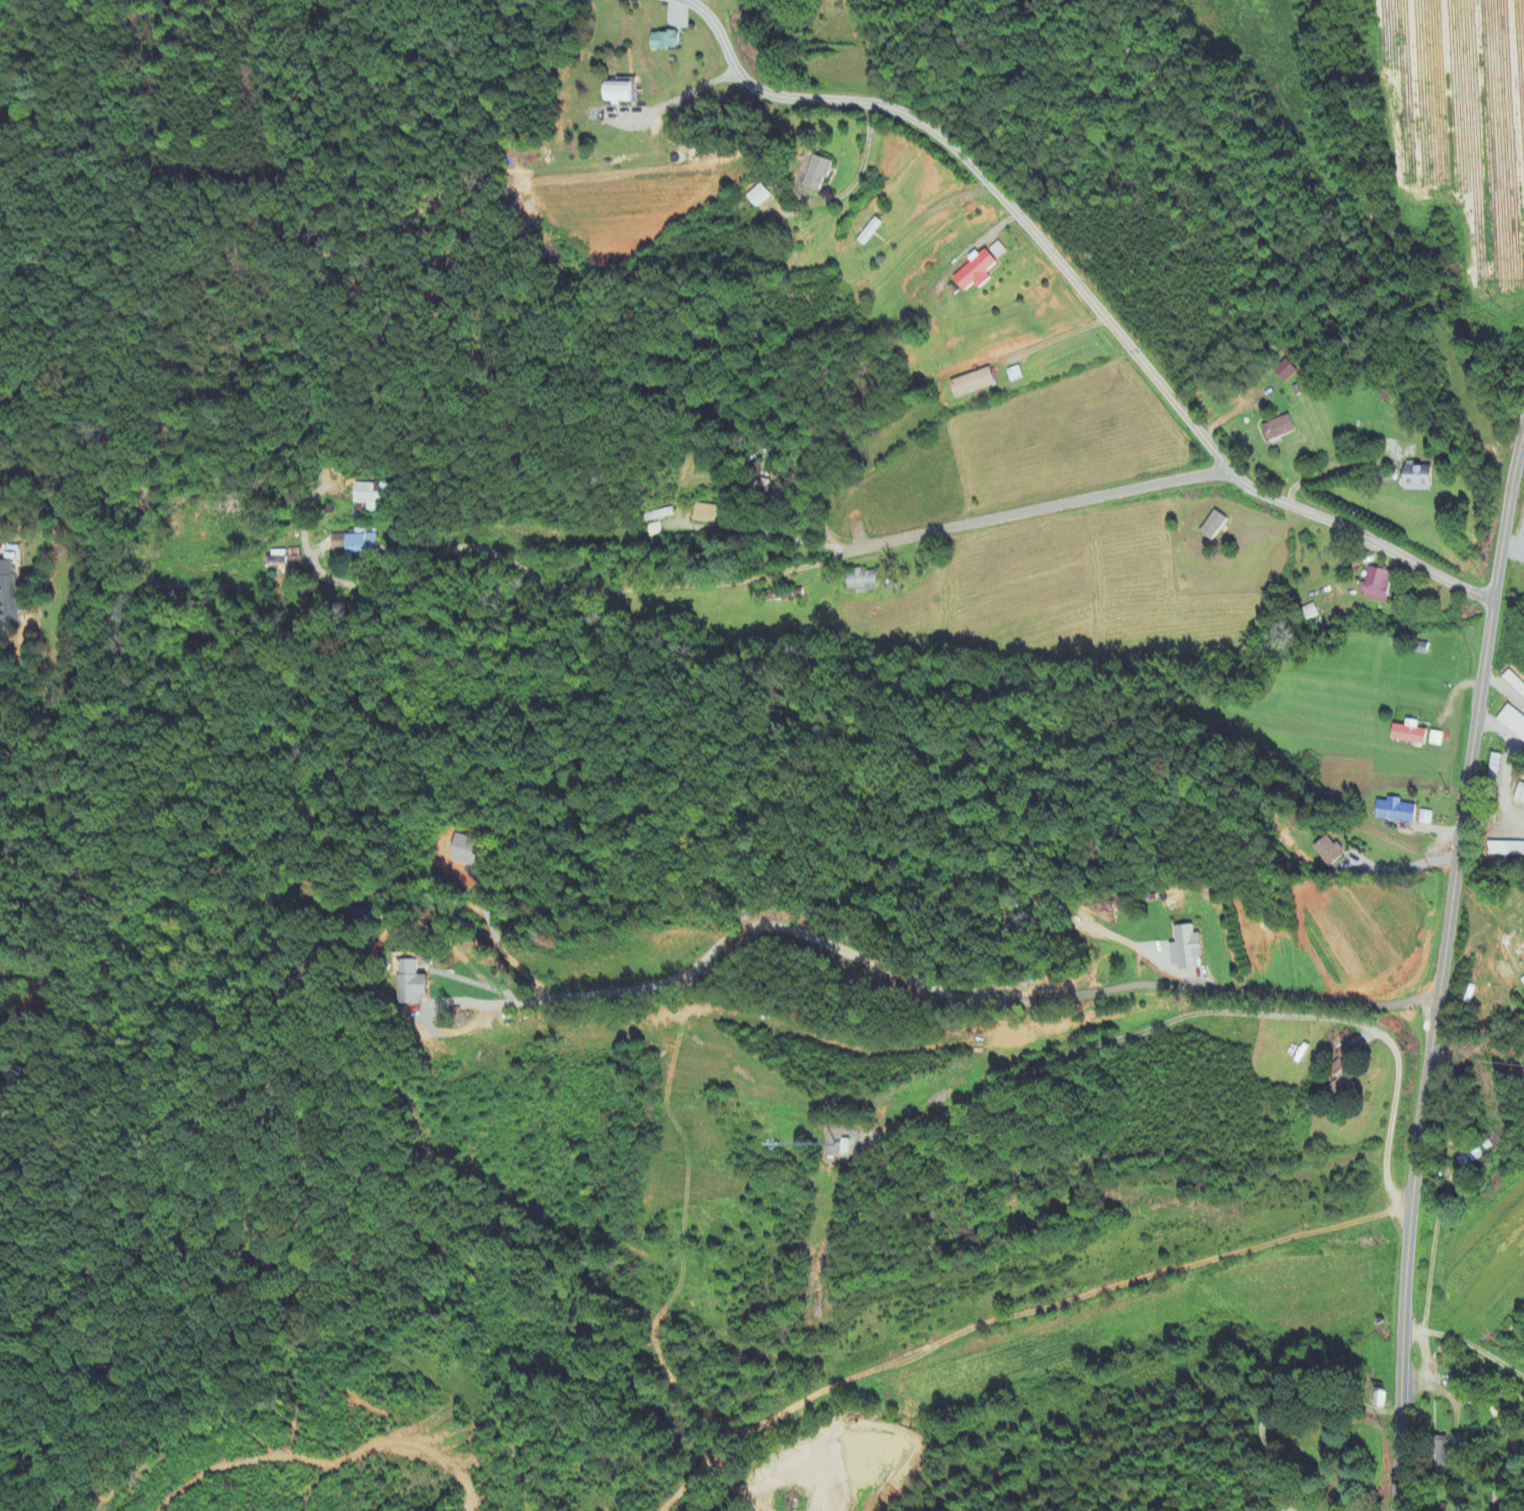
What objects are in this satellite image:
building: (668, 42)
road: (684, 87)
building: (622, 94)
building: (819, 174)
road: (858, 176)
building: (759, 197)
building: (1000, 252)
building: (979, 272)
road: (1081, 289)
road: (1052, 343)
building: (1284, 372)
building: (1016, 376)
building: (975, 385)
building: (1275, 429)
road: (1520, 429)
building: (1413, 479)
building: (371, 496)
road: (1047, 508)
building: (659, 515)
building: (705, 515)
building: (1209, 527)
building: (655, 530)
building: (356, 545)
building: (295, 566)
building: (865, 582)
building: (1374, 585)
road: (590, 590)
building: (10, 599)
building: (1513, 685)
building: (1511, 723)
road: (1499, 731)
building: (1405, 734)
building: (1433, 740)
building: (1518, 797)
building: (1397, 812)
building: (1505, 850)
building: (1330, 853)
road: (1402, 867)
building: (1189, 949)
road: (1439, 974)
building: (410, 982)
road: (930, 987)
road: (1391, 1114)
road: (1431, 1255)
road: (1467, 1346)
building: (1378, 1397)
building: (1505, 1412)
building: (1455, 1439)
building: (1498, 1501)

